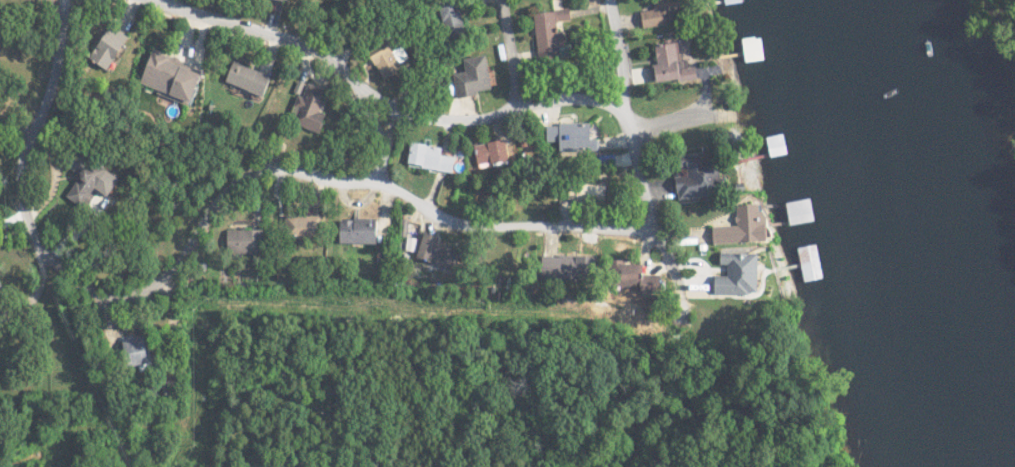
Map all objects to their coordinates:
building: (662, 14)
building: (553, 33)
road: (535, 38)
road: (631, 41)
building: (113, 47)
road: (345, 57)
building: (387, 62)
building: (674, 64)
building: (477, 77)
building: (177, 78)
building: (252, 78)
building: (312, 108)
road: (660, 128)
building: (575, 136)
building: (495, 151)
building: (431, 157)
building: (704, 180)
building: (96, 183)
road: (691, 195)
road: (232, 212)
building: (305, 224)
building: (748, 226)
building: (362, 231)
river: (918, 235)
building: (247, 240)
building: (434, 249)
building: (573, 264)
building: (633, 271)
building: (742, 274)
building: (1, 286)
building: (142, 350)

